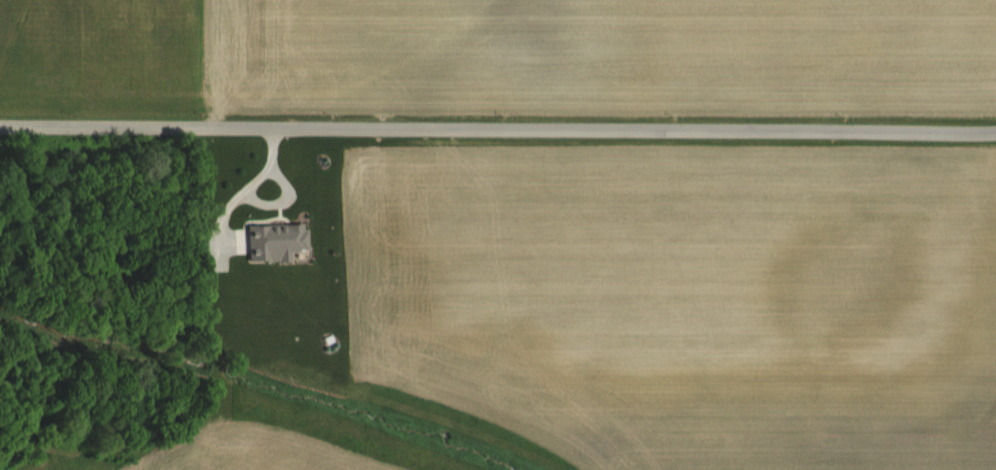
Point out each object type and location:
crop: (613, 68)
road: (498, 129)
crop: (599, 304)

